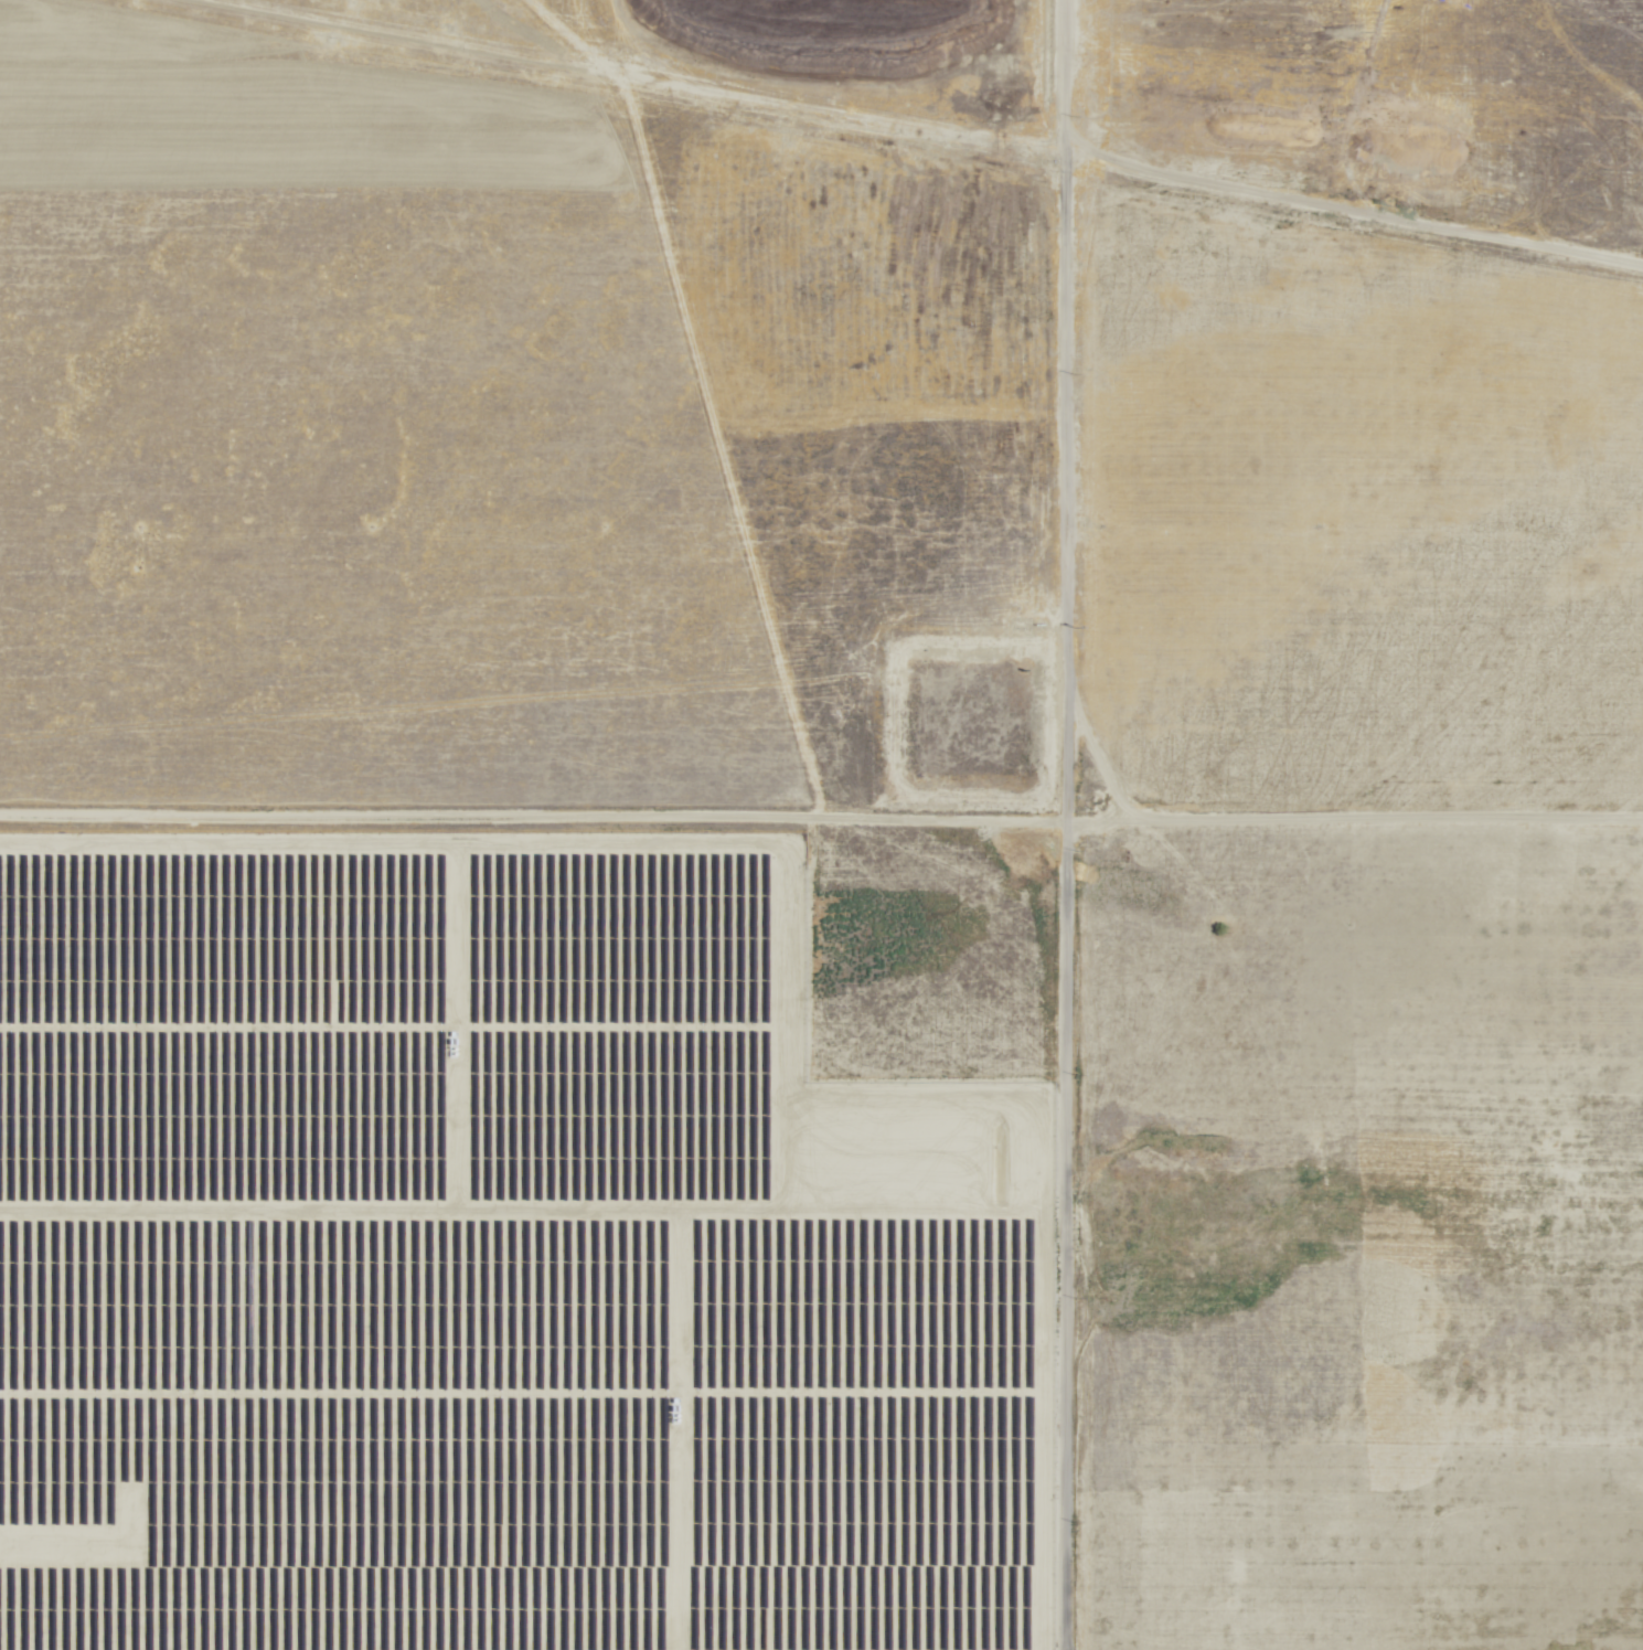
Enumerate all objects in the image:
road: (355, 686)

